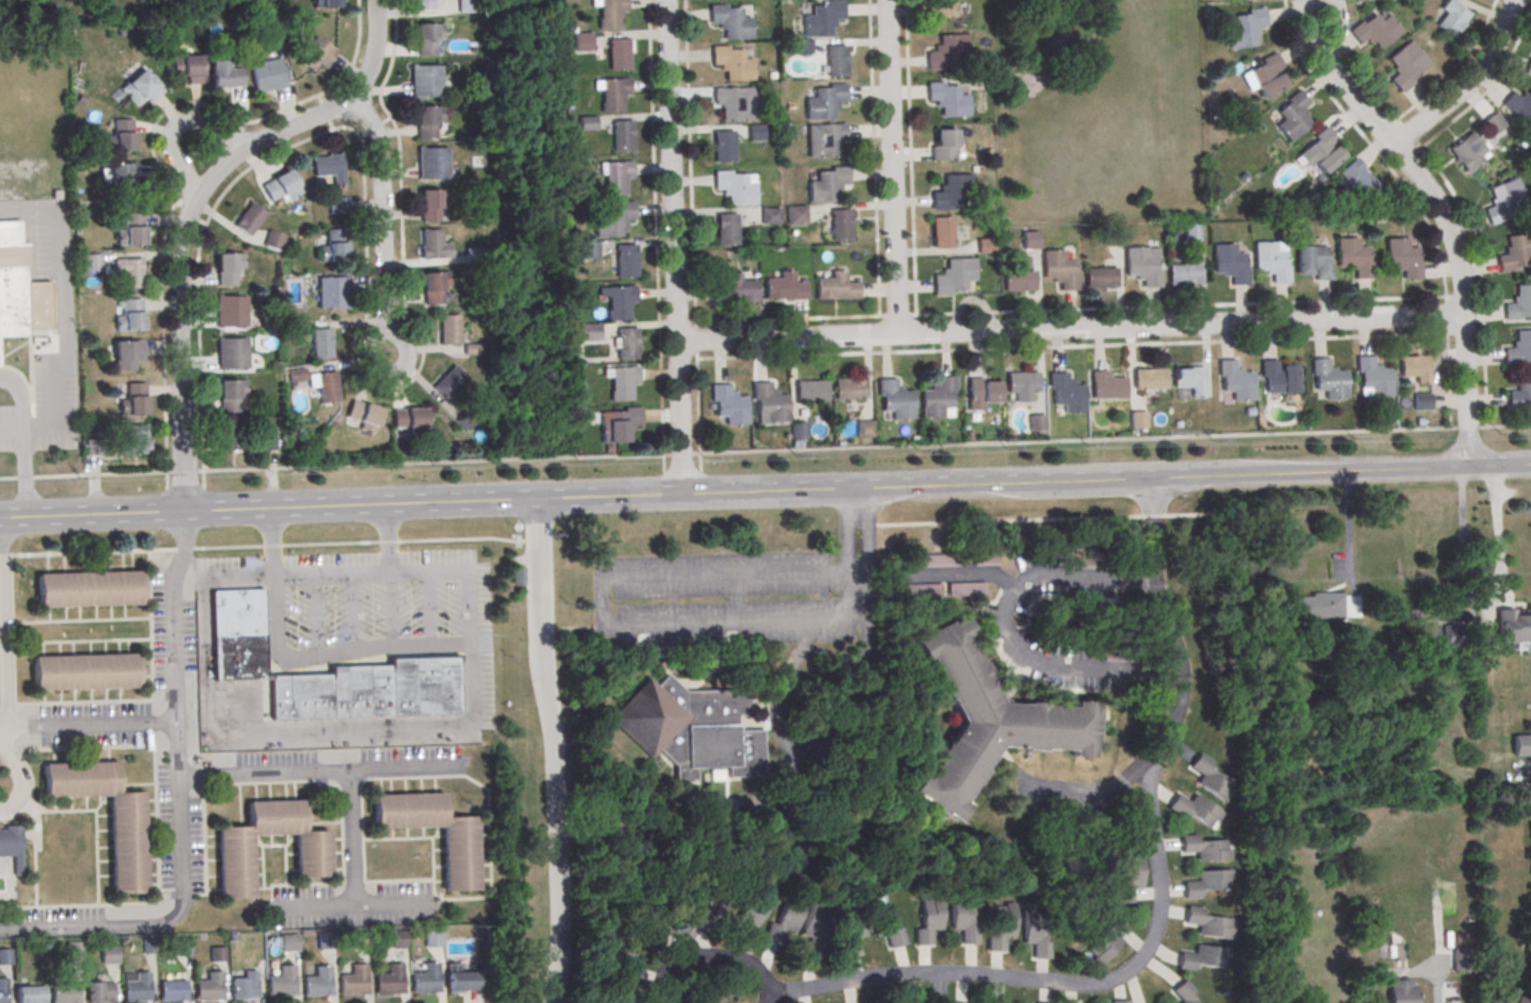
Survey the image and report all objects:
building: (327, 3)
building: (422, 4)
building: (466, 6)
building: (940, 9)
road: (1530, 11)
building: (610, 13)
building: (1452, 15)
building: (822, 19)
building: (729, 22)
building: (1243, 29)
building: (1375, 29)
building: (427, 38)
building: (582, 42)
building: (802, 46)
road: (372, 51)
building: (317, 52)
building: (946, 52)
building: (618, 55)
building: (836, 61)
building: (731, 63)
road: (1349, 64)
building: (1406, 65)
building: (188, 67)
building: (1528, 68)
building: (225, 74)
building: (268, 74)
building: (1264, 75)
building: (426, 81)
road: (1467, 83)
building: (138, 88)
building: (613, 94)
building: (946, 99)
building: (825, 102)
building: (734, 104)
building: (1519, 105)
park: (1098, 111)
building: (1292, 116)
building: (427, 121)
building: (1494, 122)
road: (178, 124)
building: (587, 124)
building: (755, 133)
building: (124, 134)
building: (622, 137)
building: (824, 140)
road: (1413, 141)
building: (944, 145)
road: (1369, 145)
building: (723, 147)
building: (1321, 151)
building: (1466, 151)
road: (909, 158)
road: (157, 163)
building: (432, 163)
building: (329, 166)
road: (890, 167)
building: (120, 171)
road: (873, 177)
building: (616, 178)
building: (1358, 178)
building: (828, 184)
building: (281, 186)
building: (734, 188)
building: (951, 191)
building: (1501, 201)
building: (339, 203)
building: (431, 204)
road: (29, 211)
road: (1441, 214)
building: (796, 215)
building: (770, 216)
building: (250, 218)
building: (612, 220)
road: (382, 223)
building: (841, 225)
road: (690, 227)
road: (654, 228)
building: (132, 229)
building: (726, 229)
road: (541, 231)
building: (942, 231)
building: (1191, 233)
building: (1111, 236)
building: (274, 239)
building: (1029, 240)
building: (430, 244)
building: (333, 245)
road: (56, 246)
building: (985, 246)
road: (672, 247)
building: (589, 249)
building: (1514, 252)
building: (471, 255)
road: (176, 256)
building: (1353, 257)
building: (1402, 258)
road: (366, 261)
building: (625, 261)
building: (92, 262)
building: (1270, 262)
building: (1313, 262)
building: (1229, 264)
building: (1141, 266)
building: (228, 267)
building: (1058, 269)
building: (128, 271)
building: (1183, 274)
building: (953, 276)
building: (1099, 278)
road: (1480, 280)
building: (1018, 281)
building: (434, 285)
building: (19, 286)
building: (784, 288)
building: (835, 288)
building: (736, 290)
building: (333, 292)
building: (619, 301)
road: (1245, 304)
building: (1518, 304)
building: (229, 311)
building: (129, 314)
road: (786, 320)
road: (64, 323)
building: (293, 326)
road: (1069, 328)
building: (449, 329)
building: (587, 332)
road: (61, 335)
building: (321, 344)
building: (626, 344)
road: (1071, 347)
building: (1518, 350)
road: (29, 353)
building: (127, 354)
building: (230, 354)
building: (0, 355)
building: (1415, 368)
building: (297, 373)
building: (1187, 377)
building: (1278, 377)
building: (1372, 377)
building: (1148, 379)
building: (1327, 379)
building: (1235, 381)
building: (449, 383)
building: (622, 383)
building: (1022, 385)
building: (1106, 386)
road: (26, 387)
building: (326, 387)
building: (850, 389)
building: (811, 391)
building: (982, 391)
building: (1066, 393)
building: (1520, 393)
building: (231, 394)
building: (937, 397)
building: (134, 398)
building: (895, 400)
building: (1422, 400)
building: (770, 403)
building: (729, 404)
road: (55, 405)
building: (364, 416)
building: (409, 420)
building: (1136, 420)
building: (618, 423)
building: (1035, 423)
road: (32, 426)
road: (1504, 428)
road: (1467, 429)
building: (863, 430)
building: (798, 431)
road: (7, 432)
road: (27, 433)
building: (229, 435)
building: (137, 438)
building: (268, 438)
road: (22, 442)
road: (827, 450)
road: (1362, 471)
road: (185, 474)
road: (102, 477)
road: (24, 480)
road: (8, 481)
road: (995, 484)
road: (204, 500)
road: (490, 500)
road: (167, 502)
road: (91, 514)
road: (1198, 514)
road: (1153, 515)
road: (1008, 519)
road: (860, 524)
road: (537, 539)
road: (558, 539)
road: (1497, 539)
road: (1348, 545)
road: (358, 546)
road: (185, 552)
road: (88, 556)
building: (935, 559)
road: (1463, 565)
road: (857, 569)
road: (330, 573)
road: (223, 578)
building: (89, 589)
building: (920, 589)
road: (858, 594)
road: (600, 601)
parking lot: (382, 604)
building: (1317, 607)
road: (390, 609)
road: (1009, 626)
building: (1512, 627)
road: (1, 630)
parking lot: (170, 632)
building: (1428, 634)
building: (237, 635)
road: (2, 642)
building: (1456, 642)
road: (408, 646)
building: (85, 671)
building: (423, 687)
building: (359, 692)
road: (850, 694)
building: (299, 697)
building: (985, 723)
road: (87, 724)
parking lot: (94, 725)
building: (689, 729)
road: (305, 733)
building: (1521, 746)
road: (552, 750)
parking lot: (348, 766)
road: (15, 770)
road: (319, 772)
building: (1211, 777)
road: (786, 780)
road: (1093, 788)
road: (177, 803)
building: (1197, 809)
parking lot: (178, 833)
road: (352, 842)
building: (126, 846)
building: (11, 847)
building: (1206, 847)
building: (232, 857)
building: (458, 860)
building: (1130, 877)
building: (1208, 882)
parking lot: (351, 907)
road: (355, 912)
building: (744, 917)
building: (701, 918)
building: (643, 920)
building: (784, 920)
building: (962, 921)
building: (927, 922)
building: (1209, 922)
parking lot: (55, 924)
building: (883, 926)
building: (1000, 928)
building: (813, 930)
building: (849, 932)
road: (1154, 934)
building: (1034, 936)
building: (1106, 939)
building: (432, 940)
building: (395, 941)
building: (324, 942)
building: (360, 942)
building: (288, 944)
building: (182, 948)
building: (1396, 950)
building: (74, 951)
building: (109, 956)
building: (6, 957)
building: (1204, 957)
building: (1460, 958)
road: (1405, 972)
building: (460, 979)
building: (424, 980)
building: (388, 981)
building: (352, 982)
building: (281, 983)
building: (317, 984)
building: (244, 986)
building: (209, 988)
building: (137, 989)
building: (172, 989)
building: (3, 991)
building: (100, 991)
building: (1401, 992)
building: (65, 993)
building: (1184, 993)
building: (31, 994)
building: (1524, 1000)
building: (962, 1002)
building: (996, 1002)
building: (1037, 1002)
building: (1074, 1002)
building: (1120, 1002)

